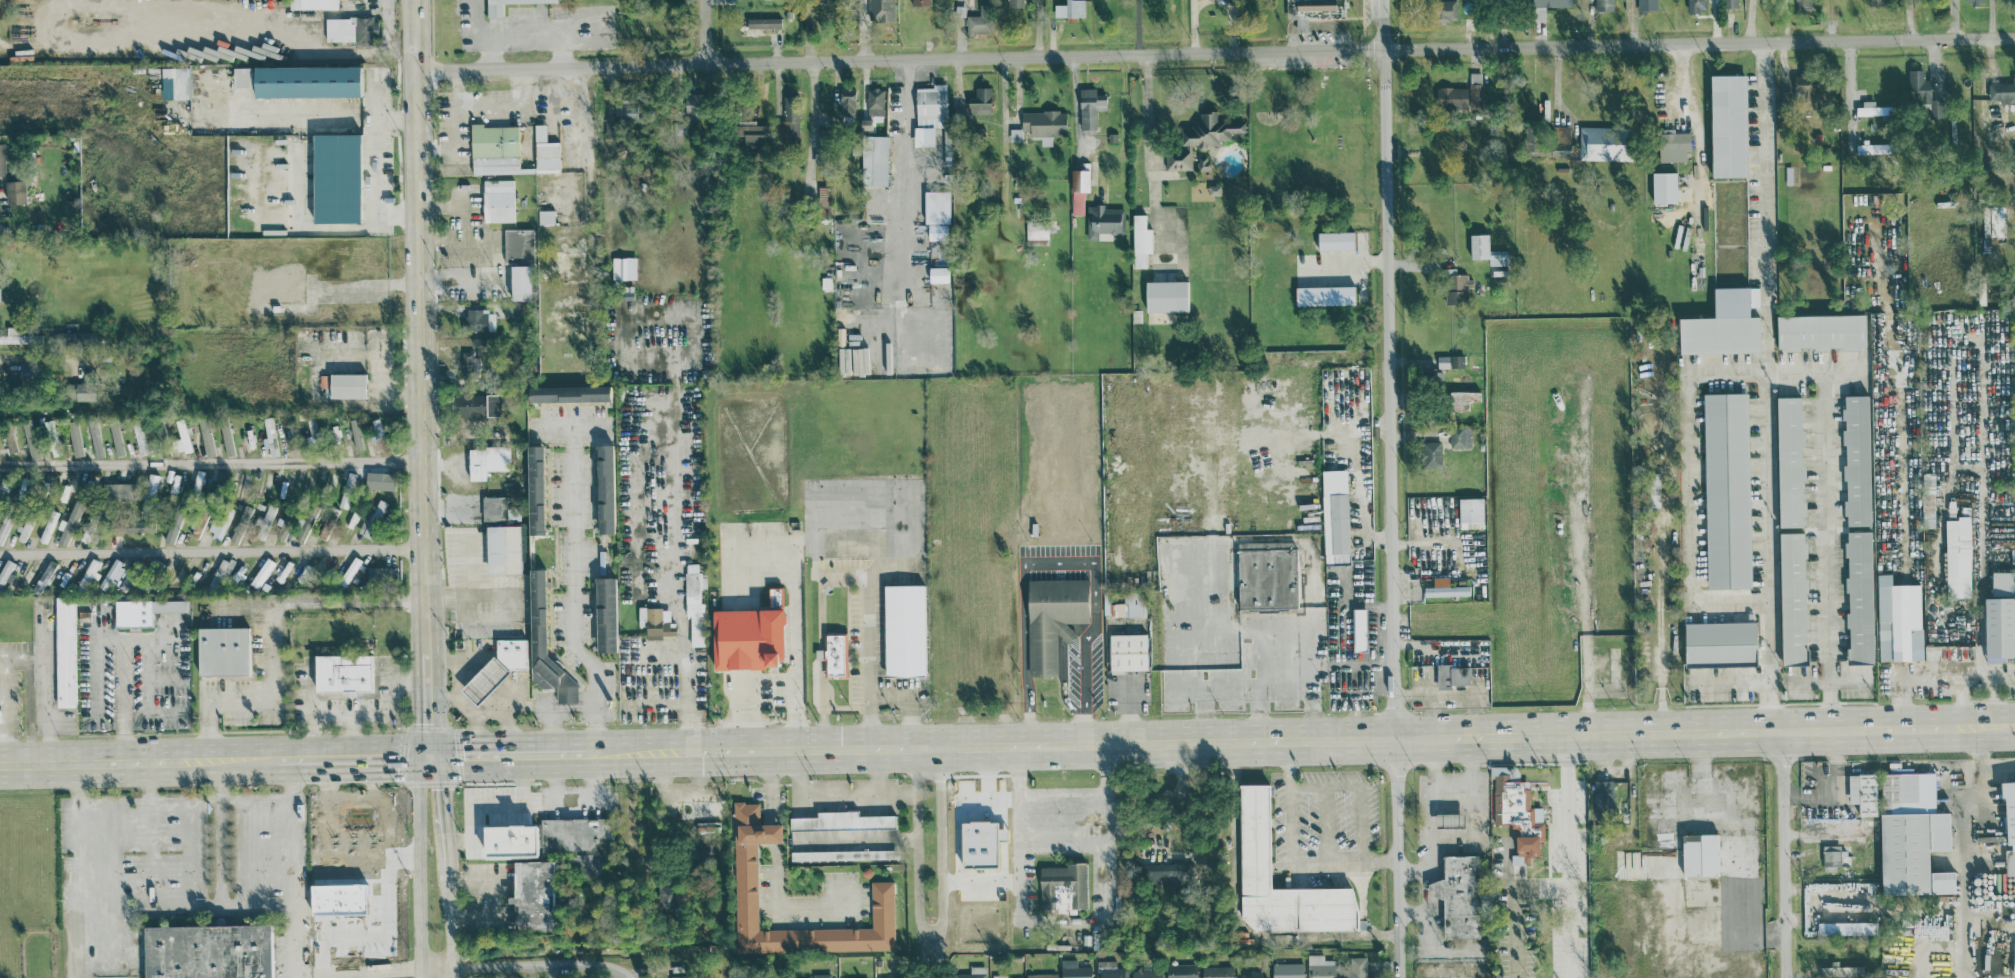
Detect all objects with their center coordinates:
building: (1974, 0)
building: (920, 1)
building: (1014, 3)
building: (1730, 3)
building: (313, 4)
building: (1646, 4)
building: (1802, 4)
building: (1604, 5)
building: (1697, 5)
road: (147, 7)
building: (1074, 8)
building: (494, 9)
building: (880, 10)
building: (1313, 10)
building: (1445, 10)
building: (1538, 13)
building: (763, 21)
road: (1748, 22)
building: (976, 23)
road: (1137, 27)
building: (350, 29)
road: (807, 30)
road: (706, 31)
road: (523, 35)
road: (388, 38)
road: (1215, 52)
building: (298, 79)
building: (174, 82)
building: (1802, 85)
building: (1475, 88)
building: (1923, 92)
building: (2003, 92)
road: (1557, 93)
road: (1850, 94)
building: (1451, 97)
building: (847, 100)
building: (980, 100)
building: (874, 101)
road: (1076, 102)
building: (693, 106)
building: (1089, 106)
building: (1871, 109)
building: (929, 112)
building: (619, 114)
building: (788, 120)
building: (1044, 124)
building: (1728, 125)
building: (1015, 134)
building: (751, 136)
road: (813, 137)
building: (1200, 138)
building: (1560, 140)
road: (1702, 140)
building: (1605, 142)
building: (1535, 143)
building: (1673, 144)
building: (494, 148)
building: (1873, 148)
road: (1150, 150)
building: (545, 151)
building: (1, 158)
building: (874, 159)
road: (373, 167)
building: (335, 177)
building: (1664, 186)
building: (1079, 187)
building: (14, 191)
building: (823, 195)
building: (497, 200)
building: (940, 202)
road: (441, 207)
road: (902, 211)
building: (545, 216)
road: (33, 219)
building: (1993, 220)
building: (1102, 221)
building: (936, 231)
building: (1036, 232)
building: (1140, 240)
building: (1335, 240)
building: (518, 245)
building: (1486, 249)
building: (623, 267)
building: (938, 274)
building: (519, 282)
building: (1456, 287)
building: (1324, 294)
building: (1166, 295)
building: (479, 319)
building: (1723, 324)
road: (421, 325)
building: (1821, 331)
building: (19, 336)
building: (1450, 360)
building: (468, 361)
building: (28, 369)
road: (1806, 372)
building: (346, 385)
building: (77, 390)
building: (567, 393)
building: (474, 404)
building: (267, 422)
road: (570, 424)
building: (159, 430)
building: (181, 435)
building: (34, 436)
building: (1460, 436)
building: (115, 437)
building: (226, 437)
building: (357, 437)
building: (74, 438)
building: (139, 440)
building: (7, 441)
building: (1430, 453)
building: (486, 460)
building: (1791, 462)
building: (1858, 462)
road: (212, 463)
building: (197, 480)
building: (175, 483)
building: (150, 484)
building: (22, 488)
building: (603, 488)
building: (346, 489)
building: (533, 489)
road: (1390, 489)
building: (119, 491)
building: (1728, 491)
road: (1768, 496)
road: (845, 498)
building: (1928, 499)
building: (1653, 502)
building: (498, 509)
building: (331, 512)
building: (1471, 512)
building: (1335, 515)
building: (72, 519)
building: (177, 521)
building: (199, 521)
building: (265, 521)
building: (240, 523)
building: (283, 524)
building: (48, 525)
building: (133, 525)
building: (4, 527)
building: (300, 528)
road: (1898, 529)
building: (24, 530)
road: (879, 531)
road: (823, 539)
road: (1692, 546)
building: (502, 549)
road: (212, 550)
road: (1662, 554)
building: (1958, 557)
road: (1060, 562)
road: (1584, 562)
building: (222, 569)
building: (6, 571)
road: (869, 571)
building: (261, 572)
building: (45, 574)
building: (87, 574)
building: (1267, 575)
building: (170, 580)
building: (2003, 583)
building: (1445, 588)
road: (573, 590)
road: (318, 600)
building: (1795, 600)
building: (1861, 600)
building: (694, 604)
building: (1130, 605)
building: (130, 613)
building: (604, 614)
building: (1052, 619)
building: (1899, 620)
building: (655, 622)
building: (1999, 628)
building: (1359, 629)
building: (904, 630)
building: (748, 635)
road: (96, 639)
road: (793, 642)
road: (820, 642)
building: (544, 644)
building: (1722, 646)
building: (223, 650)
building: (65, 651)
building: (1128, 651)
building: (511, 652)
building: (833, 654)
road: (867, 658)
road: (20, 661)
road: (685, 664)
road: (455, 667)
building: (341, 672)
building: (1452, 675)
road: (41, 678)
road: (161, 679)
road: (412, 680)
building: (483, 680)
road: (1436, 693)
road: (146, 695)
road: (124, 698)
road: (257, 699)
road: (909, 699)
road: (431, 701)
road: (309, 705)
road: (509, 705)
road: (845, 707)
road: (1, 710)
road: (738, 710)
road: (380, 712)
road: (548, 727)
road: (505, 728)
road: (474, 731)
road: (351, 733)
road: (1305, 736)
road: (513, 750)
road: (1705, 750)
traffic signals: (432, 752)
road: (355, 753)
road: (139, 758)
road: (1434, 764)
road: (1685, 773)
road: (220, 779)
road: (145, 780)
road: (773, 785)
building: (1863, 792)
road: (1065, 793)
road: (1176, 794)
road: (895, 795)
building: (1603, 796)
road: (836, 797)
road: (1431, 798)
road: (189, 802)
road: (377, 807)
road: (633, 810)
road: (330, 811)
road: (445, 814)
building: (841, 820)
building: (1448, 820)
road: (1109, 825)
building: (2010, 827)
road: (774, 833)
building: (345, 835)
building: (1254, 835)
building: (1912, 835)
road: (855, 838)
road: (1021, 839)
building: (507, 841)
road: (915, 841)
building: (578, 843)
road: (942, 843)
road: (1977, 843)
road: (1782, 852)
road: (1288, 854)
road: (1565, 854)
building: (1700, 854)
building: (842, 855)
building: (1830, 857)
road: (1522, 859)
building: (745, 861)
road: (367, 862)
road: (418, 863)
road: (299, 865)
road: (82, 868)
building: (1159, 872)
building: (1062, 886)
building: (1458, 896)
building: (533, 897)
building: (667, 897)
road: (781, 904)
road: (161, 912)
road: (451, 927)
building: (1845, 928)
road: (1959, 942)
building: (206, 951)
road: (929, 958)
road: (523, 966)
building: (1322, 966)
building: (1355, 967)
building: (1074, 969)
building: (1110, 970)
building: (1181, 970)
building: (1287, 970)
building: (1841, 970)
building: (1216, 971)
building: (973, 972)
road: (365, 973)
building: (1146, 974)
building: (822, 975)
building: (1041, 975)
building: (678, 976)
building: (999, 976)
building: (898, 977)

